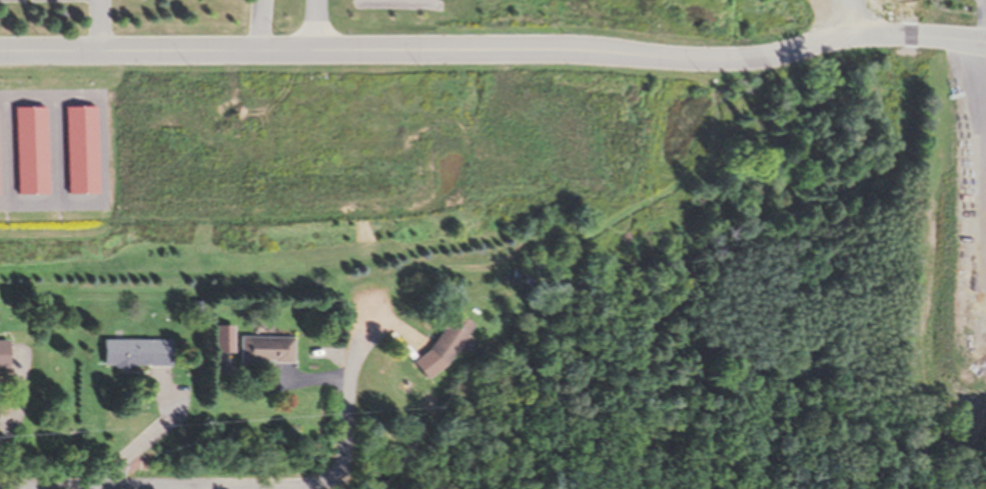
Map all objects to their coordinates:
road: (495, 47)
building: (446, 336)
building: (264, 348)
building: (133, 350)
building: (2, 354)
road: (345, 405)
road: (164, 481)

